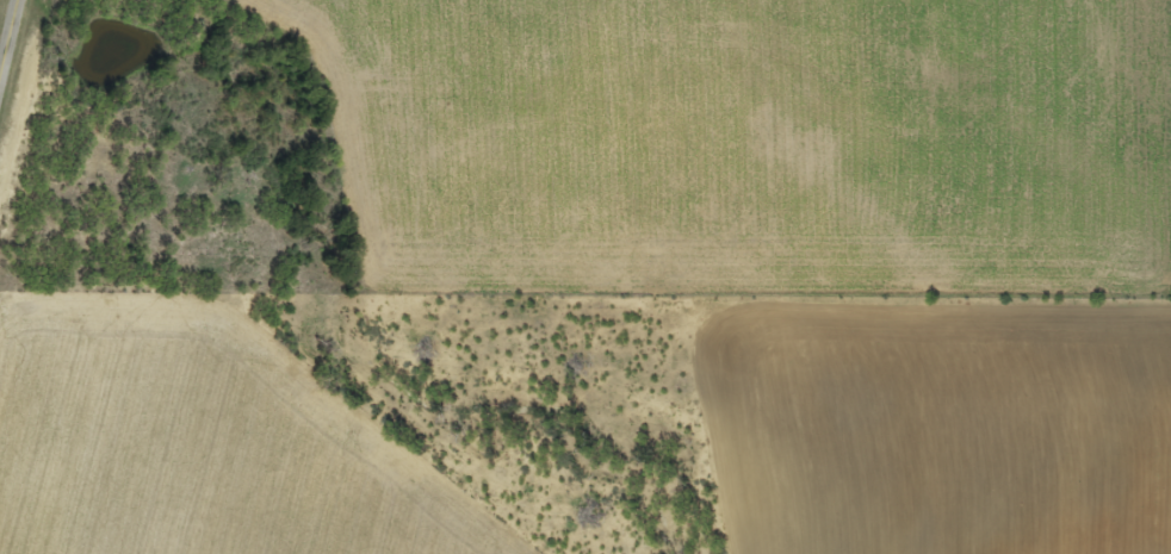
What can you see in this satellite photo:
road: (10, 44)

